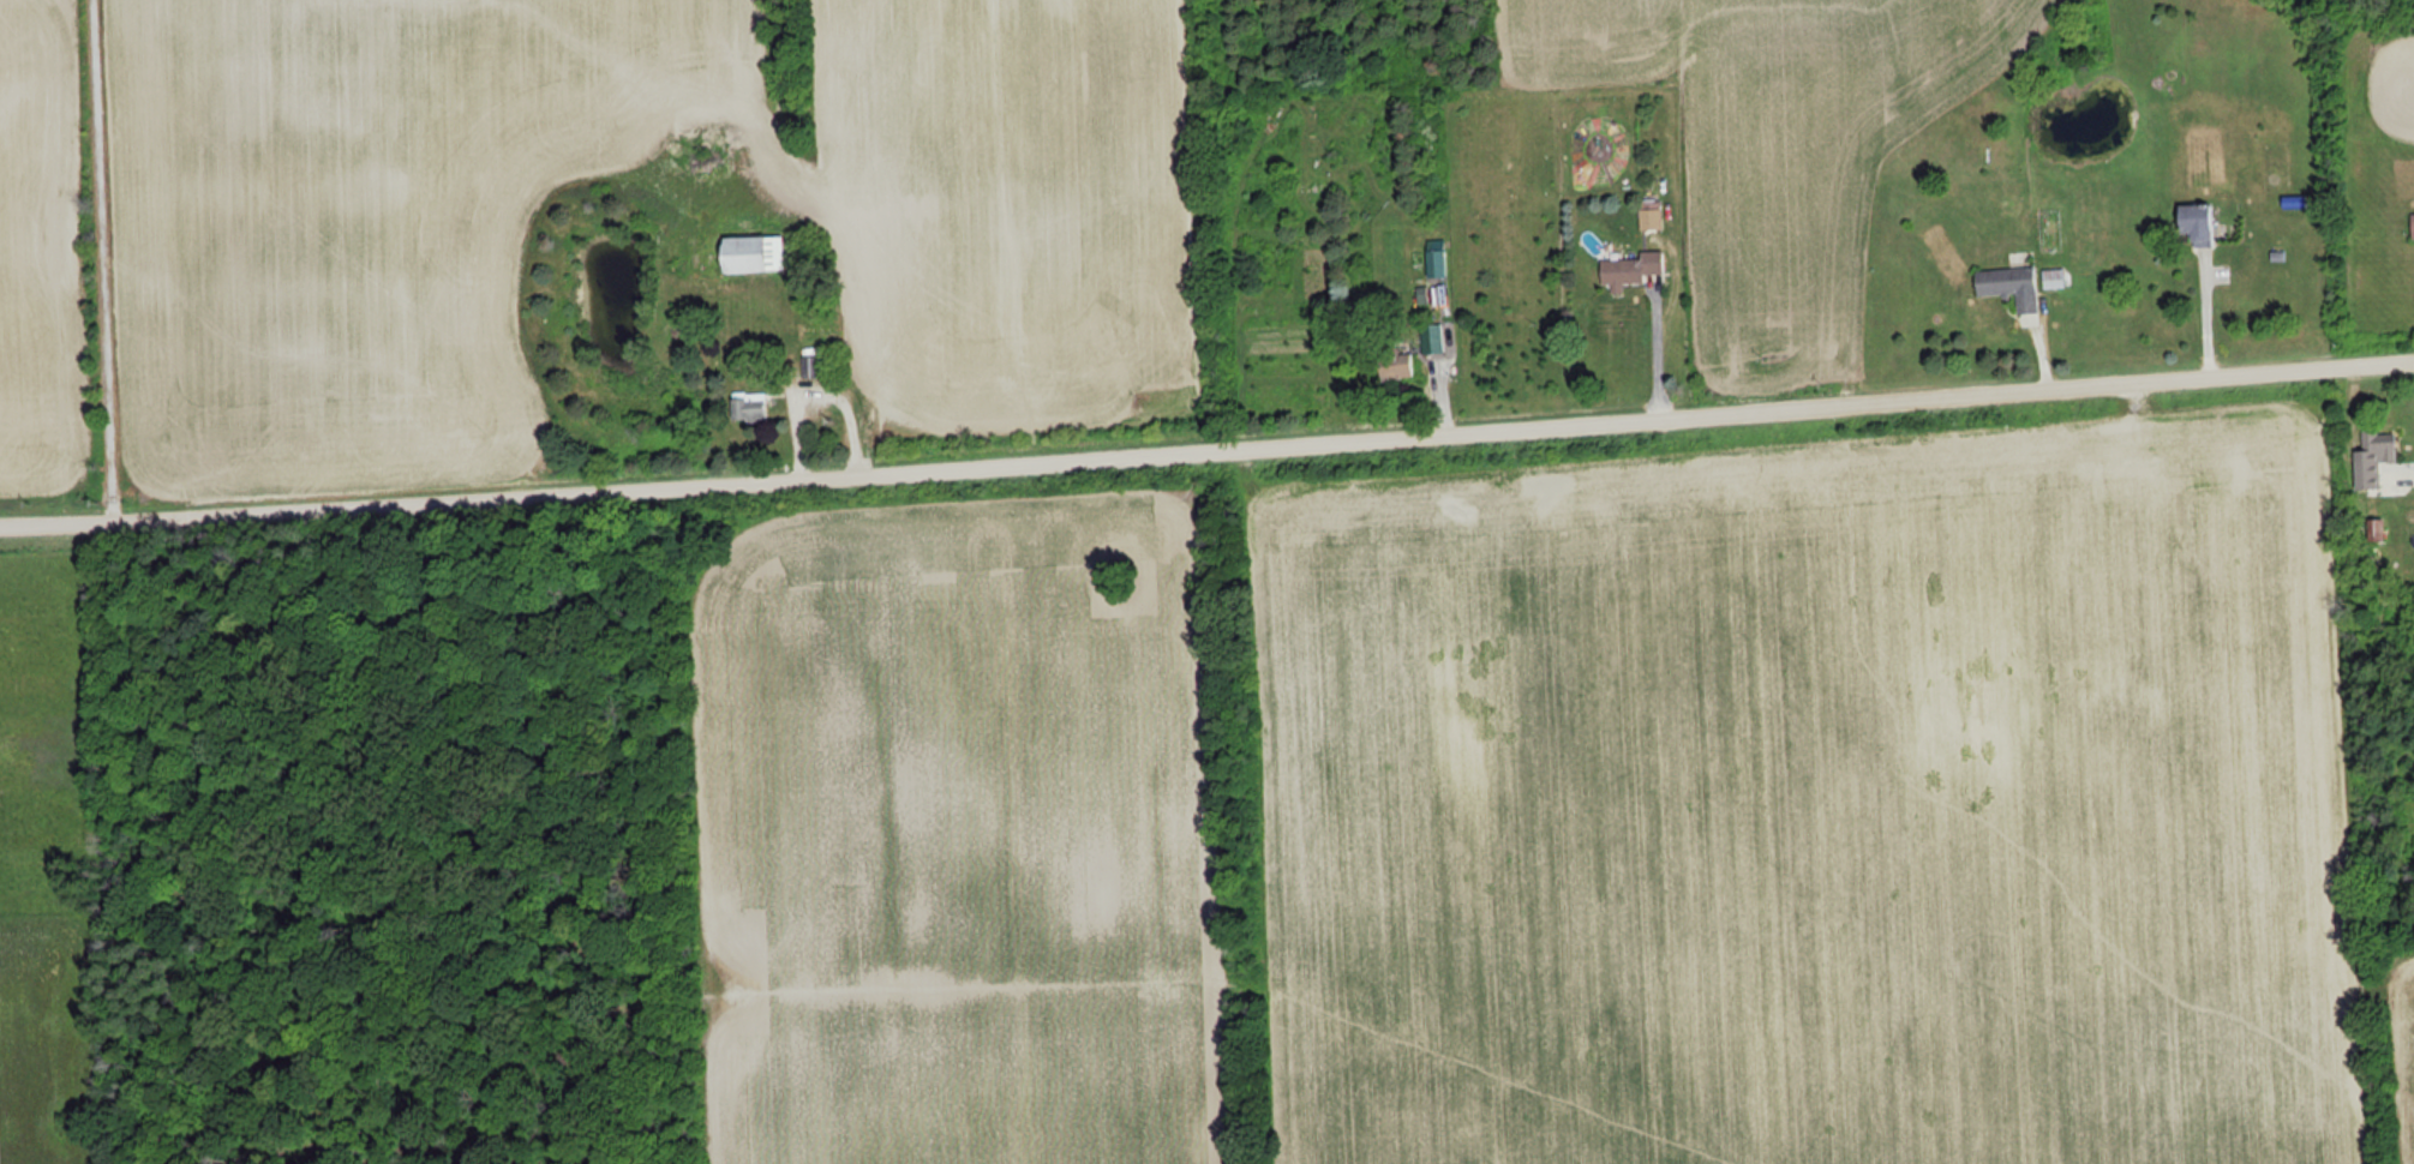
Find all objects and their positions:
building: (1649, 218)
building: (2196, 223)
building: (2412, 224)
building: (754, 254)
road: (115, 258)
building: (1436, 262)
building: (1631, 269)
building: (2053, 277)
building: (2008, 284)
building: (1432, 337)
building: (1395, 362)
building: (811, 366)
building: (749, 407)
road: (1206, 443)
building: (2374, 455)
road: (2403, 475)
building: (2376, 527)

